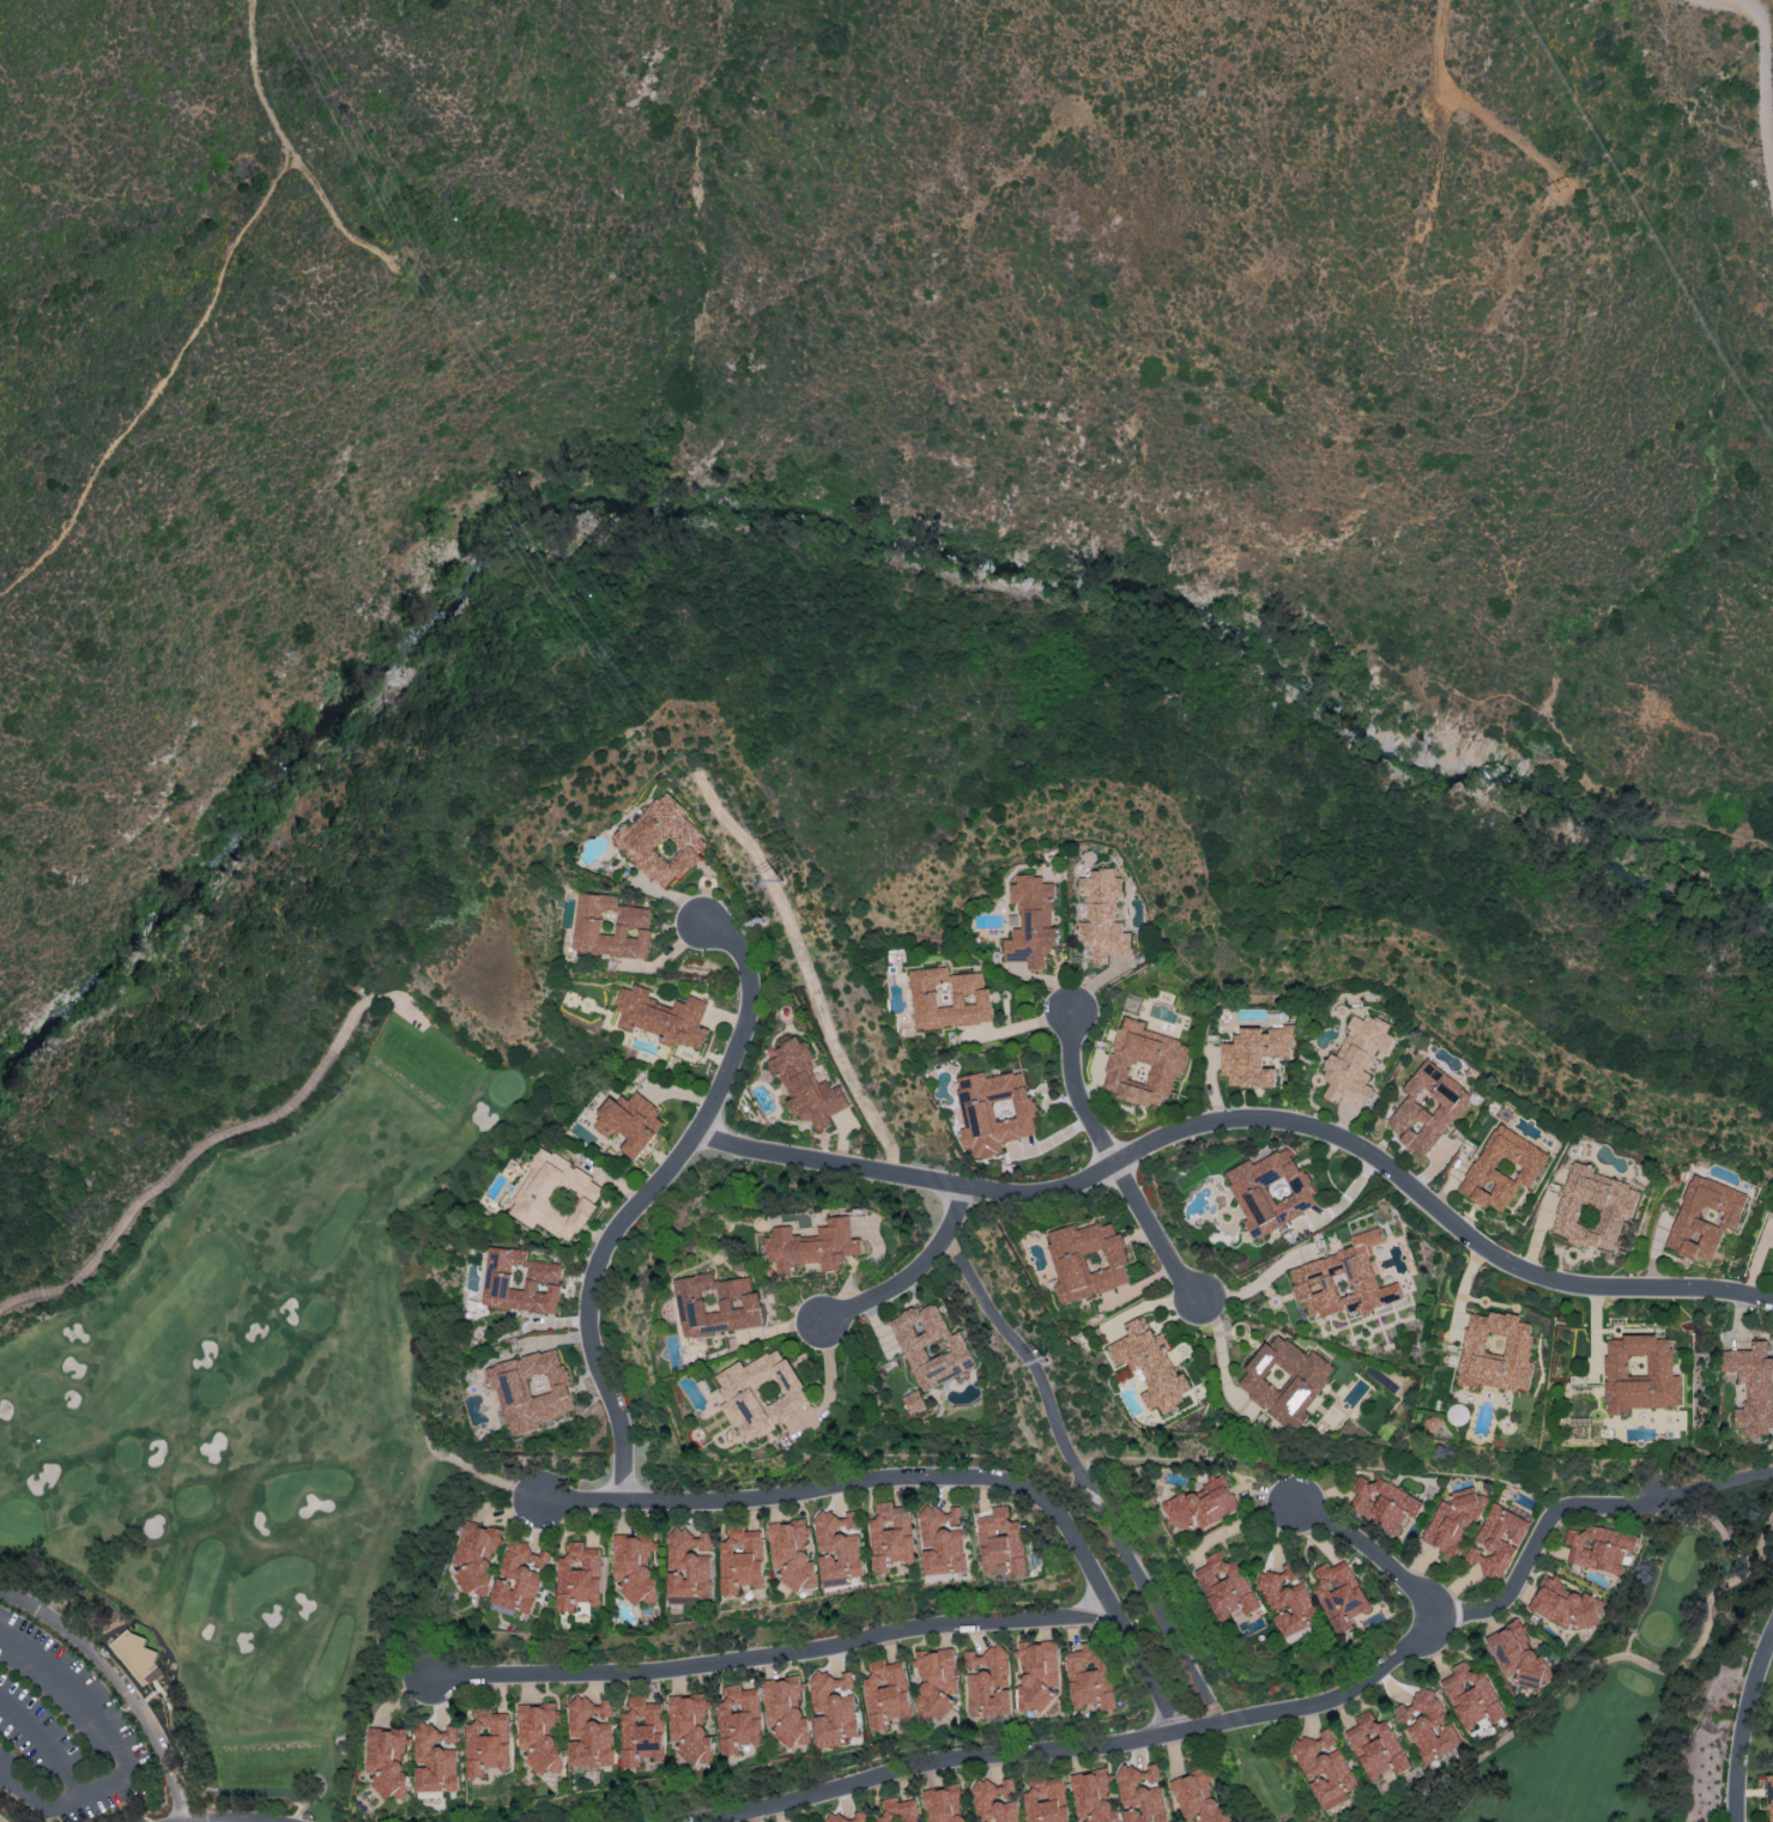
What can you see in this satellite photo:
road: (1436, 42)
road: (1762, 69)
road: (1501, 132)
road: (297, 156)
road: (1436, 159)
power tower: (1563, 188)
power tower: (395, 254)
road: (159, 383)
power tower: (652, 715)
road: (1563, 738)
building: (661, 841)
building: (1102, 915)
power tower: (762, 919)
building: (1031, 921)
building: (611, 927)
road: (803, 967)
building: (948, 998)
building: (661, 1017)
building: (1253, 1055)
building: (1355, 1060)
building: (1143, 1064)
building: (805, 1085)
building: (1427, 1108)
building: (993, 1110)
road: (1247, 1116)
building: (629, 1121)
road: (213, 1138)
road: (1114, 1160)
building: (1501, 1168)
building: (1270, 1191)
building: (555, 1197)
road: (643, 1198)
building: (1592, 1207)
building: (1705, 1217)
building: (815, 1247)
building: (1772, 1251)
building: (1088, 1260)
road: (910, 1271)
building: (1343, 1279)
building: (519, 1281)
building: (719, 1305)
building: (931, 1346)
building: (1496, 1351)
building: (1150, 1364)
building: (1639, 1374)
building: (1284, 1380)
building: (1753, 1386)
building: (531, 1390)
building: (763, 1393)
building: (914, 1402)
building: (1458, 1414)
road: (1083, 1477)
road: (770, 1495)
building: (1202, 1503)
building: (1382, 1503)
road: (1583, 1507)
building: (1451, 1523)
building: (890, 1536)
building: (942, 1540)
building: (1496, 1540)
building: (1000, 1544)
building: (837, 1545)
building: (1599, 1548)
building: (789, 1552)
road: (1373, 1557)
building: (476, 1558)
building: (739, 1560)
building: (688, 1566)
building: (633, 1567)
building: (576, 1576)
building: (519, 1578)
building: (1226, 1586)
road: (1102, 1593)
building: (1339, 1596)
building: (1288, 1598)
building: (1563, 1603)
road: (775, 1653)
building: (135, 1657)
building: (1517, 1657)
building: (1036, 1675)
building: (1089, 1675)
building: (936, 1682)
road: (121, 1683)
building: (987, 1684)
building: (885, 1694)
building: (1470, 1696)
building: (834, 1707)
building: (786, 1712)
building: (739, 1719)
road: (1745, 1724)
building: (1428, 1726)
building: (690, 1727)
building: (641, 1731)
building: (589, 1732)
building: (538, 1736)
road: (46, 1741)
building: (486, 1742)
road: (1082, 1742)
road: (122, 1744)
building: (1375, 1745)
building: (435, 1759)
building: (387, 1761)
building: (1325, 1767)
building: (1140, 1793)
building: (1091, 1796)
building: (1769, 1797)
building: (1197, 1798)
building: (1045, 1800)
building: (993, 1802)
building: (943, 1804)
building: (849, 1817)

